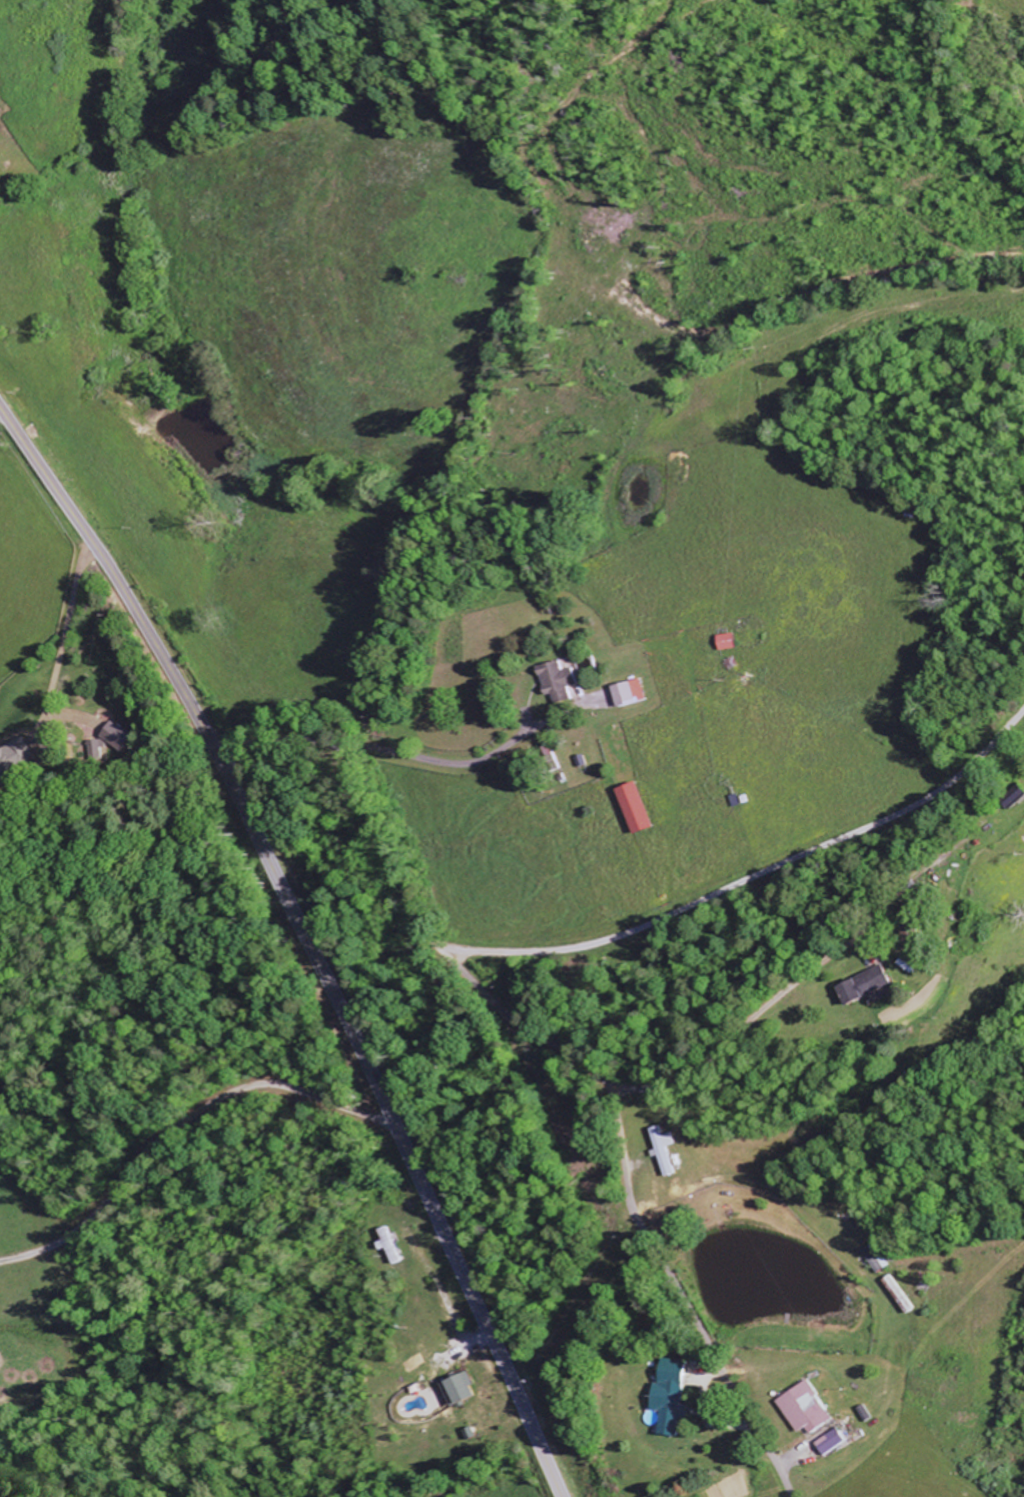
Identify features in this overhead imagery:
building: (734, 643)
building: (564, 682)
building: (634, 694)
road: (272, 736)
building: (123, 737)
building: (17, 762)
building: (642, 810)
road: (301, 938)
building: (871, 986)
road: (546, 1036)
building: (669, 1150)
building: (392, 1246)
building: (881, 1258)
road: (683, 1292)
building: (465, 1390)
building: (676, 1397)
building: (810, 1409)
building: (835, 1442)

